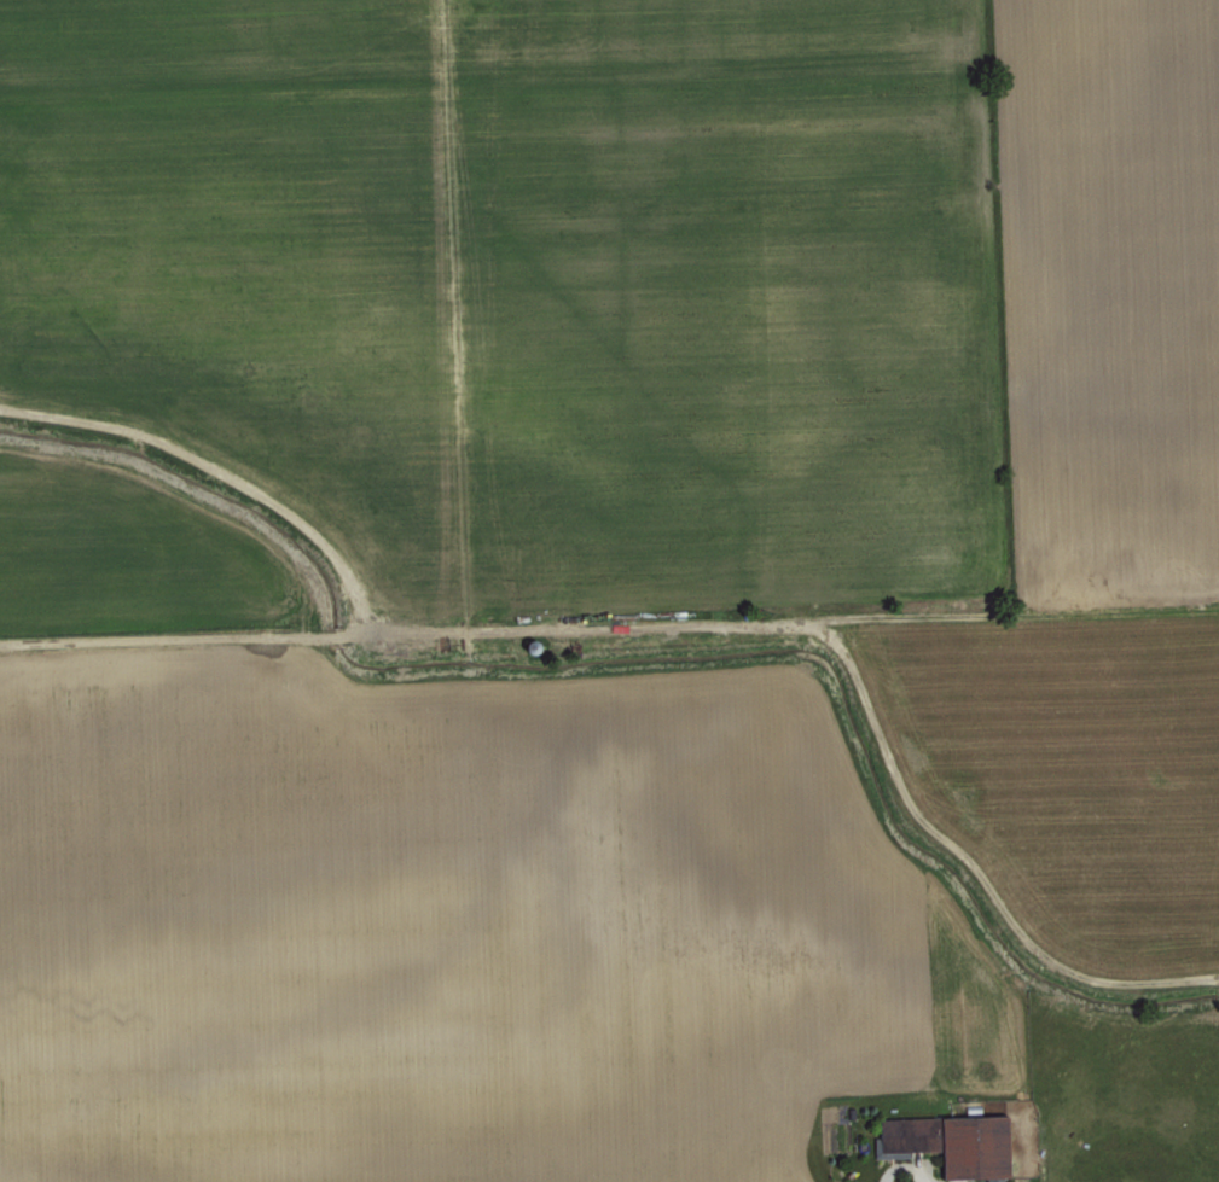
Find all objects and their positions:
building: (950, 1142)

